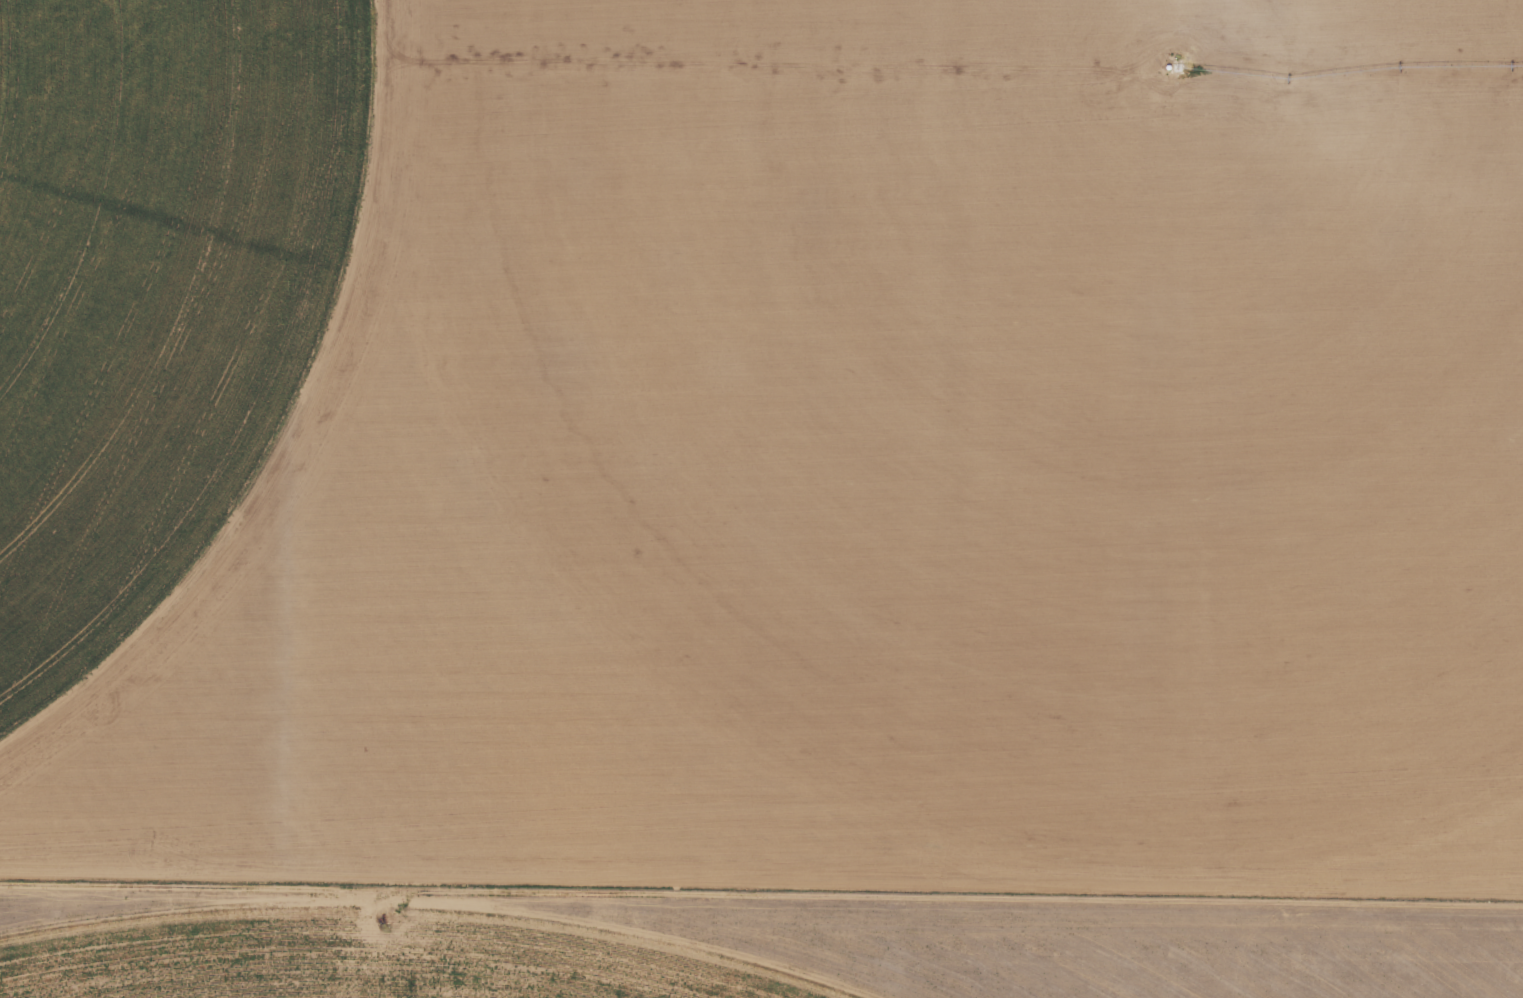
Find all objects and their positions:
crop: (765, 443)
crop: (759, 959)

